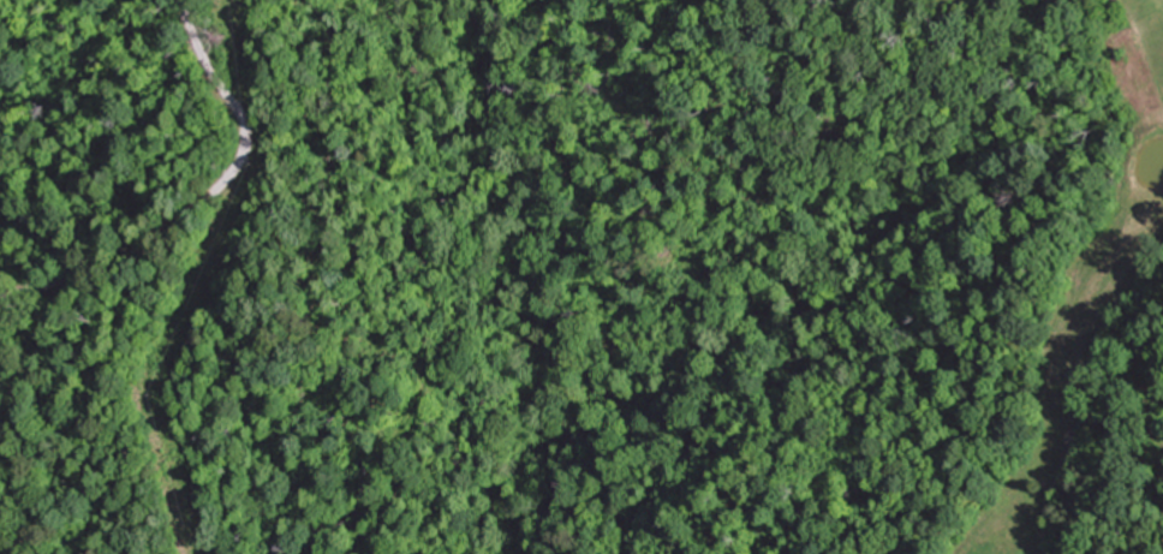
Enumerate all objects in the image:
road: (204, 201)

